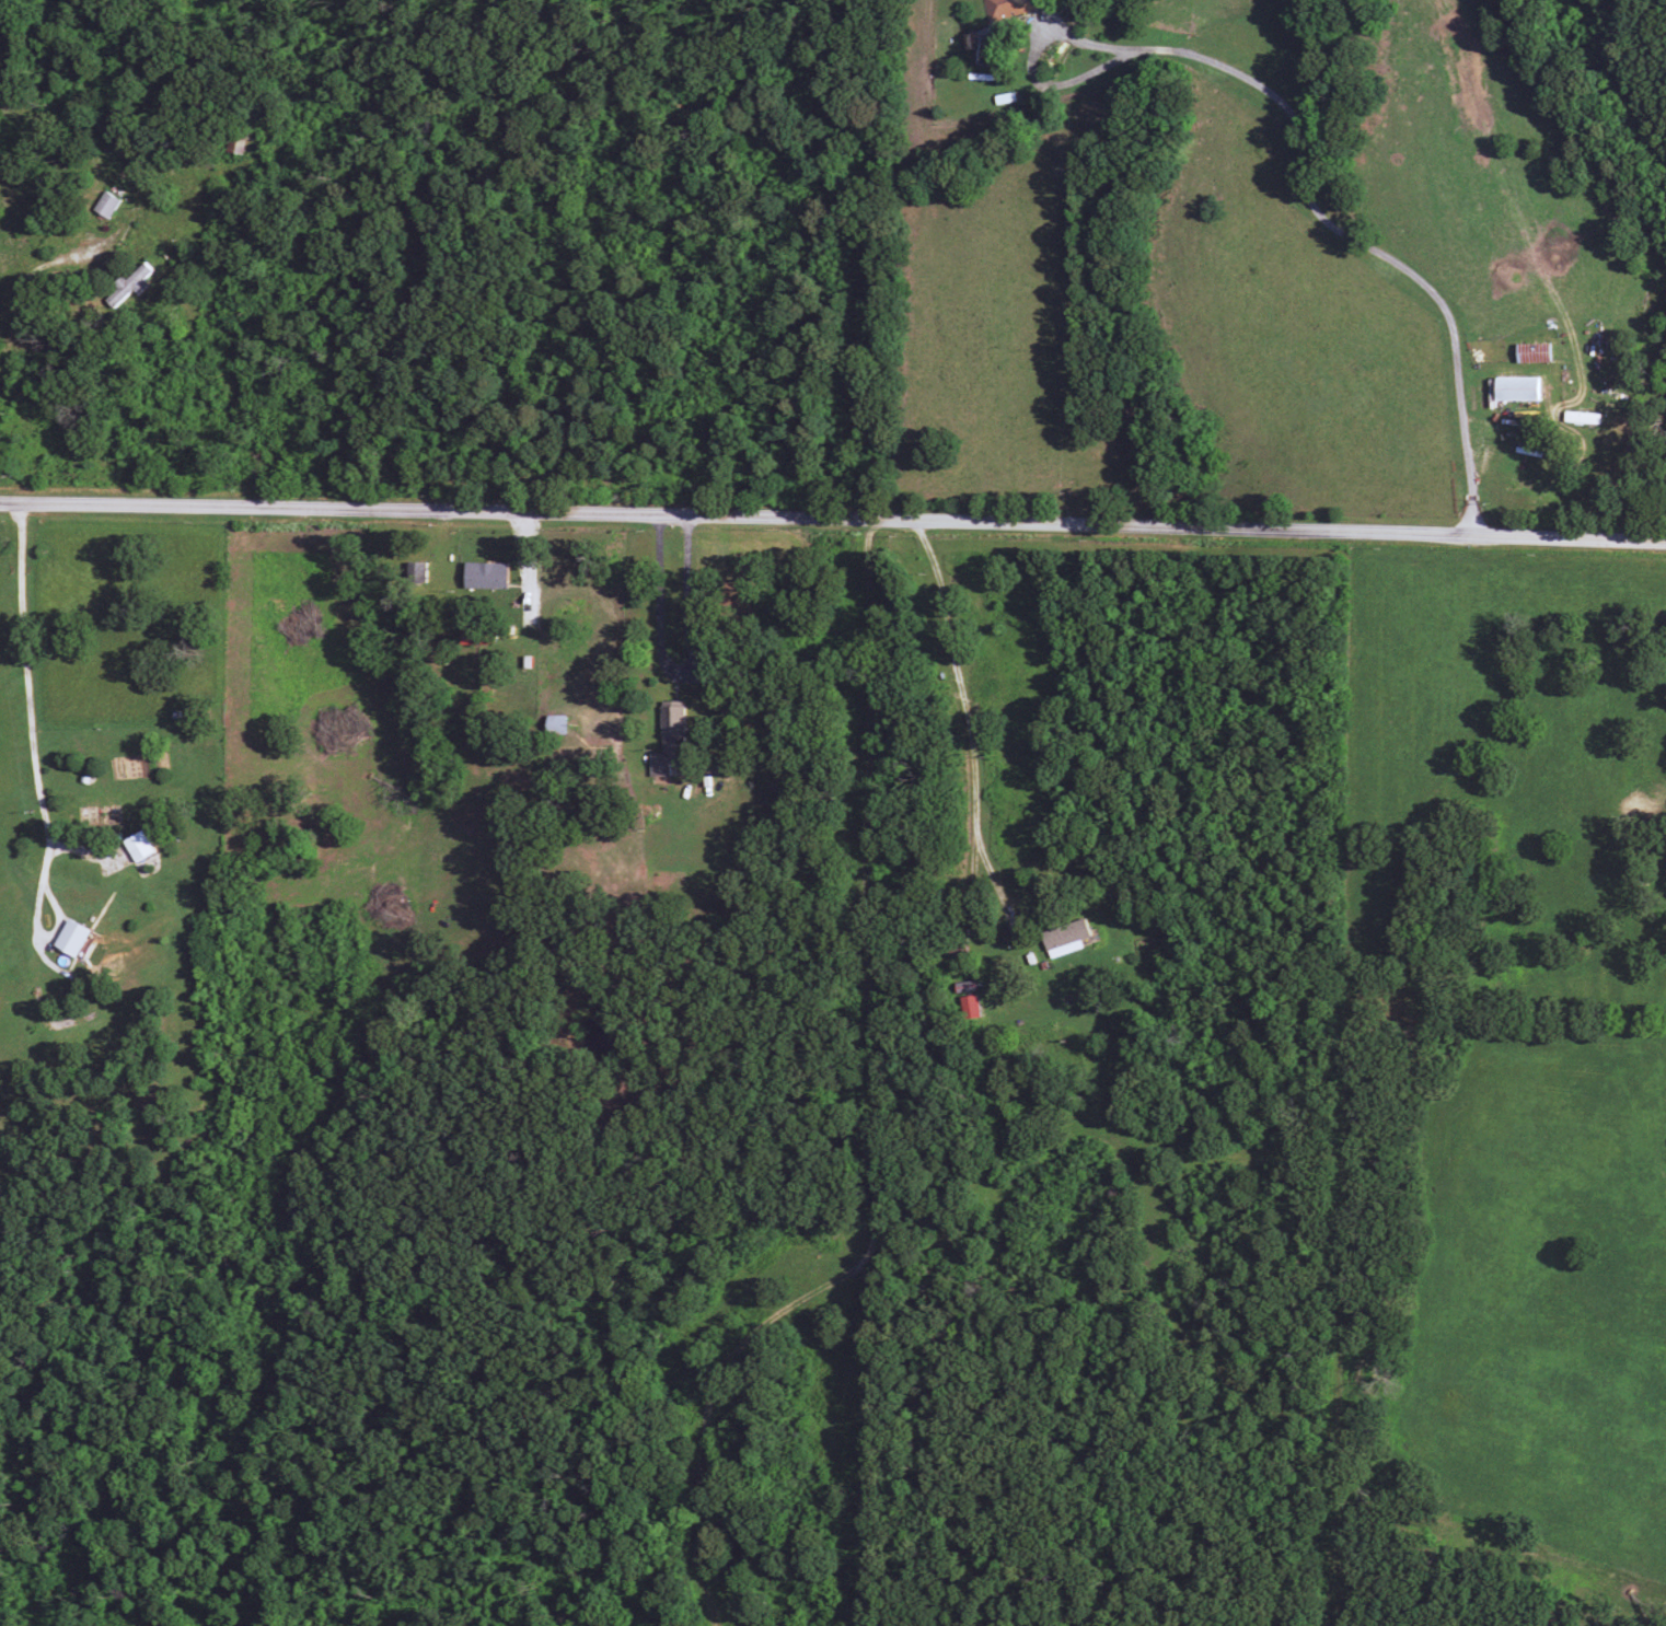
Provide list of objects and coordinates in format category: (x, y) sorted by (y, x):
building: (1008, 7)
building: (105, 200)
road: (1352, 239)
road: (46, 260)
building: (129, 281)
building: (1532, 349)
building: (1516, 384)
road: (833, 519)
building: (484, 571)
building: (476, 631)
road: (967, 721)
building: (668, 735)
road: (32, 792)
building: (136, 843)
building: (1065, 933)
building: (70, 934)
building: (969, 1002)

